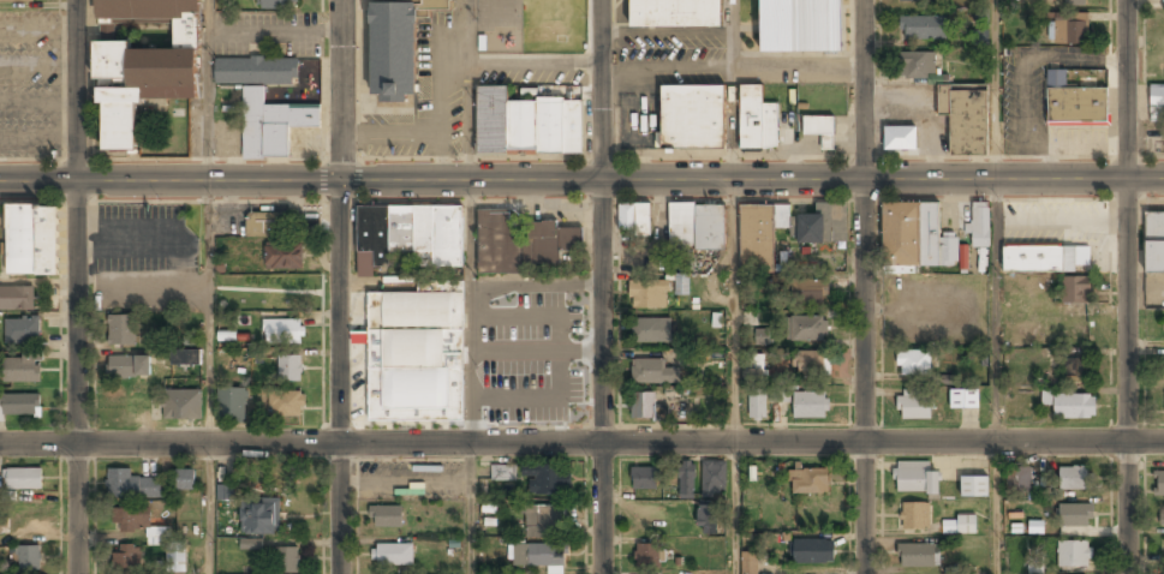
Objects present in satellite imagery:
building: (17, 1)
building: (918, 1)
building: (1162, 1)
building: (1075, 4)
building: (274, 5)
building: (674, 13)
building: (800, 26)
building: (921, 29)
building: (1069, 29)
building: (979, 37)
building: (398, 46)
building: (144, 66)
building: (913, 66)
building: (256, 72)
building: (1074, 102)
building: (1157, 102)
building: (966, 118)
building: (692, 119)
building: (756, 121)
building: (271, 125)
building: (525, 125)
building: (818, 130)
building: (900, 139)
road: (581, 179)
traffic signals: (340, 180)
building: (634, 219)
building: (262, 225)
building: (305, 225)
building: (980, 226)
building: (697, 228)
building: (814, 228)
building: (411, 235)
building: (756, 238)
building: (914, 238)
building: (32, 241)
building: (519, 243)
building: (1153, 244)
building: (962, 256)
building: (283, 257)
building: (1046, 259)
road: (535, 281)
building: (681, 283)
road: (77, 286)
road: (207, 286)
road: (733, 286)
road: (864, 286)
road: (340, 287)
road: (467, 287)
road: (602, 287)
road: (996, 287)
road: (1128, 287)
building: (1076, 291)
building: (810, 292)
building: (643, 295)
building: (17, 299)
road: (502, 324)
building: (807, 329)
building: (121, 331)
road: (548, 331)
building: (651, 331)
building: (22, 333)
building: (282, 333)
building: (226, 335)
building: (762, 336)
road: (519, 339)
building: (418, 352)
park: (470, 355)
building: (690, 357)
building: (186, 359)
road: (547, 363)
building: (808, 364)
building: (913, 364)
building: (756, 365)
building: (129, 367)
building: (22, 369)
building: (288, 370)
road: (526, 370)
building: (1075, 371)
building: (651, 373)
building: (778, 394)
building: (965, 399)
building: (1070, 405)
building: (19, 406)
building: (181, 406)
building: (286, 406)
building: (810, 406)
building: (913, 406)
building: (232, 407)
building: (643, 407)
building: (757, 407)
road: (581, 444)
building: (502, 472)
building: (915, 478)
building: (644, 479)
building: (1073, 479)
building: (24, 480)
building: (548, 480)
building: (714, 480)
building: (1019, 480)
building: (185, 482)
building: (686, 482)
building: (808, 483)
building: (1159, 485)
building: (135, 488)
building: (974, 488)
building: (223, 491)
building: (0, 495)
building: (386, 516)
building: (914, 516)
building: (259, 518)
building: (1075, 518)
building: (1162, 518)
building: (131, 521)
building: (708, 521)
building: (539, 522)
building: (959, 526)
building: (4, 527)
building: (1034, 527)
building: (250, 543)
building: (812, 552)
building: (393, 555)
building: (1073, 555)
building: (537, 556)
building: (918, 556)
building: (649, 557)
building: (127, 558)
building: (28, 560)
building: (286, 562)
building: (175, 563)
building: (750, 563)

